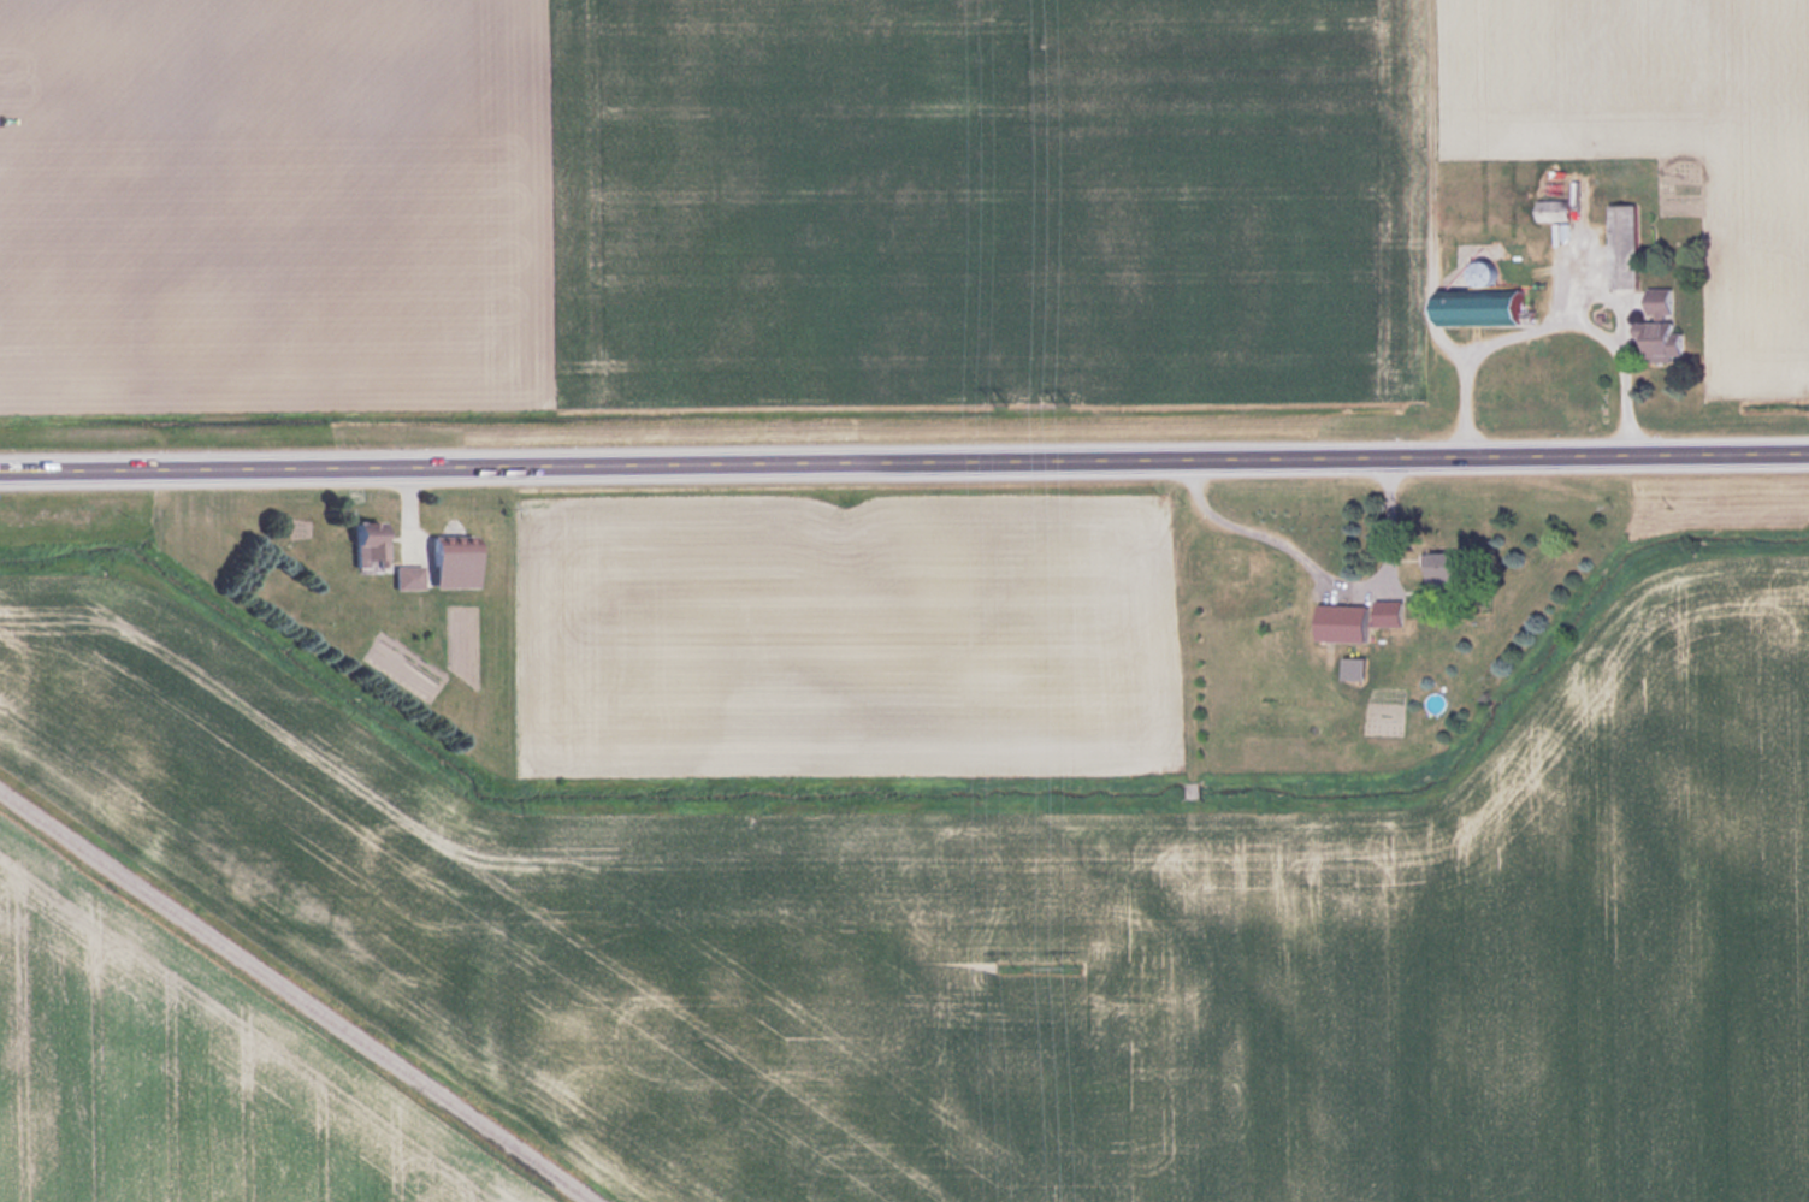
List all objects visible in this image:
building: (1627, 245)
building: (1666, 302)
road: (1562, 303)
road: (1591, 326)
building: (1665, 338)
power tower: (1062, 399)
power tower: (999, 401)
road: (904, 467)
building: (372, 547)
building: (461, 564)
building: (1455, 567)
building: (410, 578)
power tower: (1070, 964)
power tower: (1006, 965)
railway: (296, 996)

